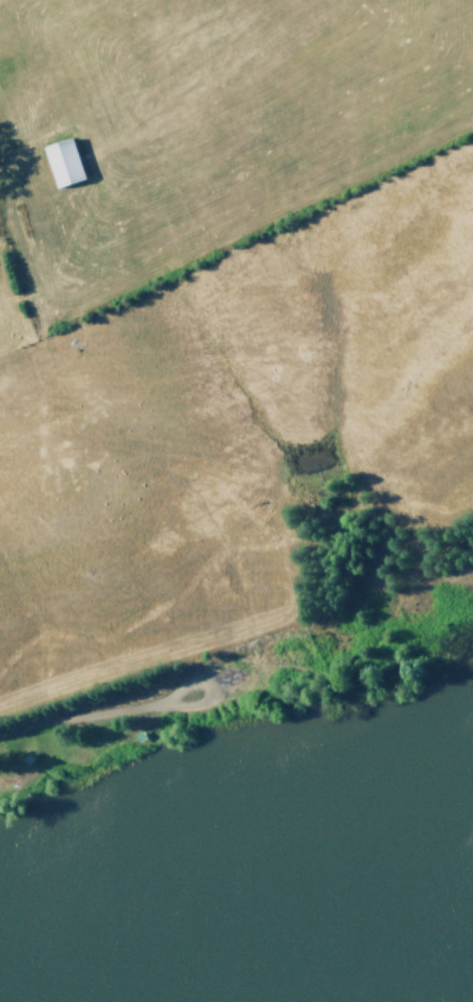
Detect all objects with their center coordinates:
building: (63, 162)
road: (341, 621)
road: (104, 697)

